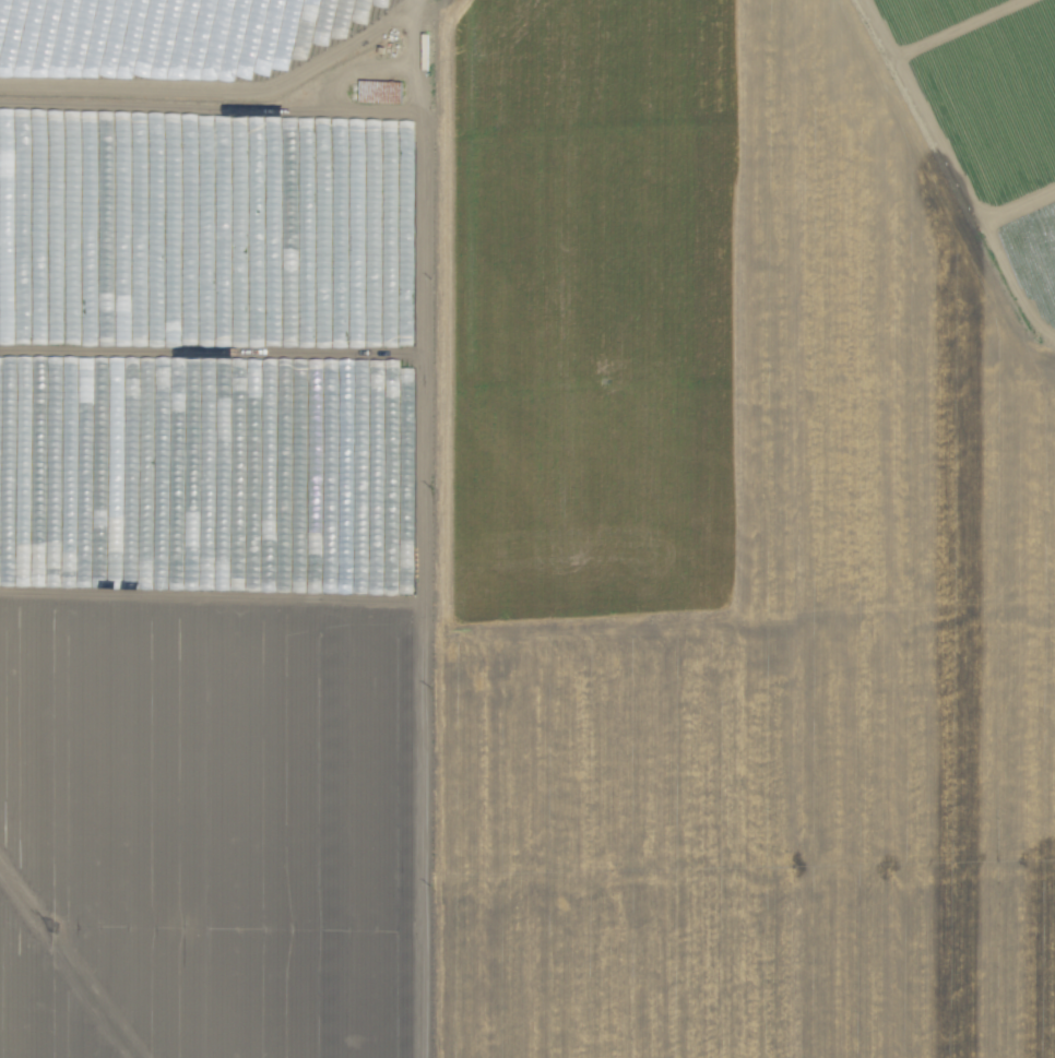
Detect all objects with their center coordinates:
building: (379, 91)
crop: (991, 121)
crop: (512, 542)
road: (432, 570)

